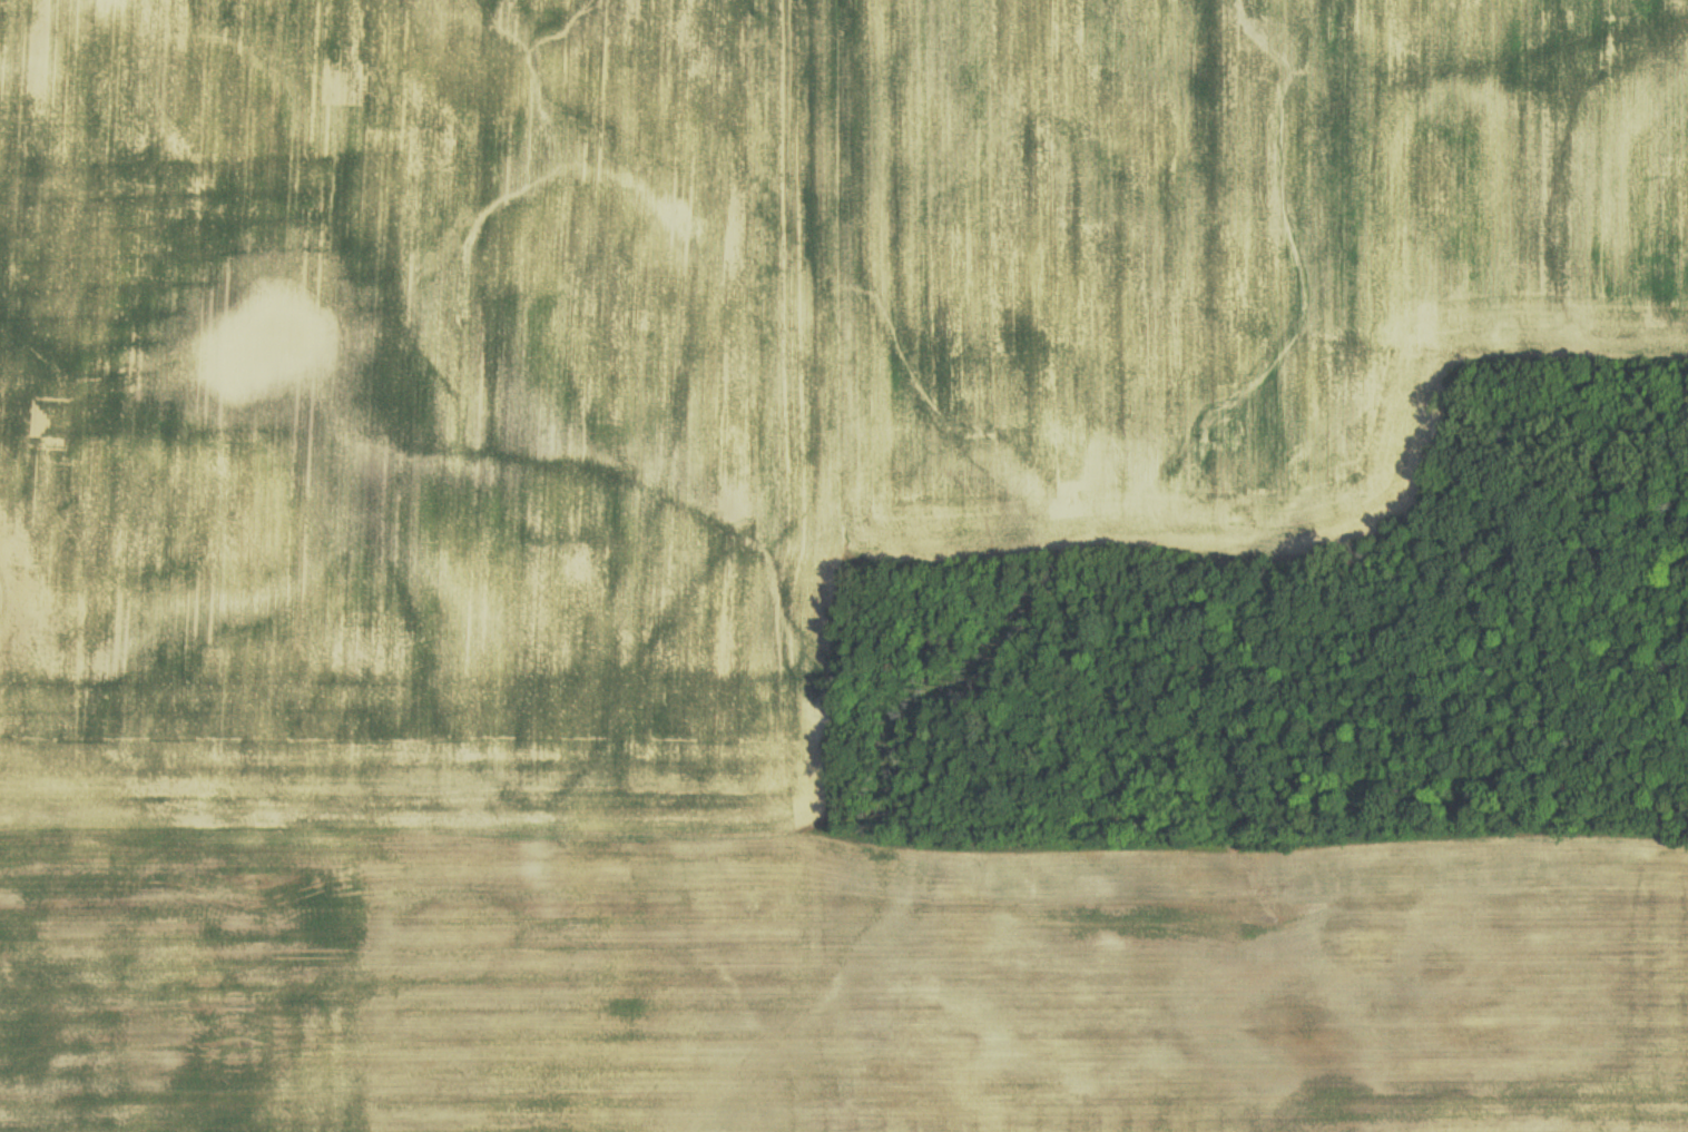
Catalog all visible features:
crop: (1221, 259)
crop: (414, 408)
crop: (827, 982)

